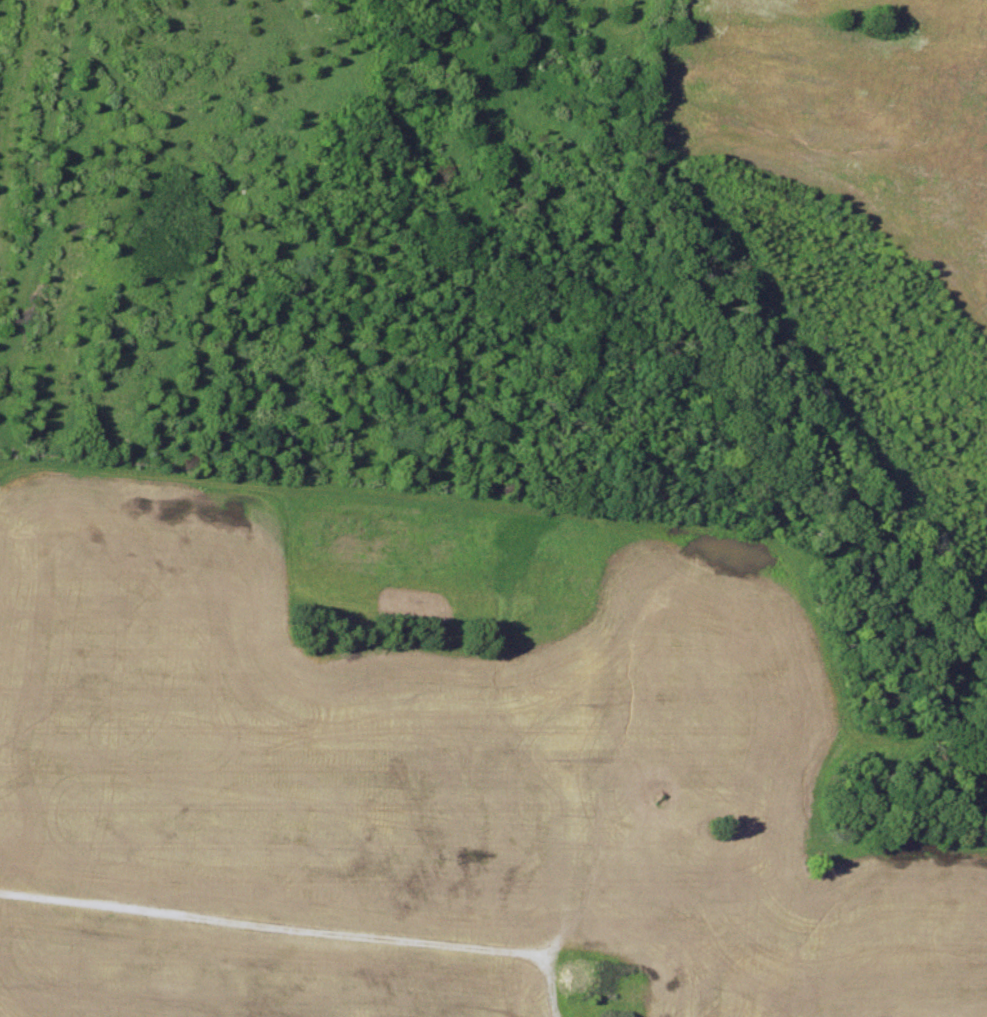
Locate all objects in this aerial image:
railway: (677, 354)

